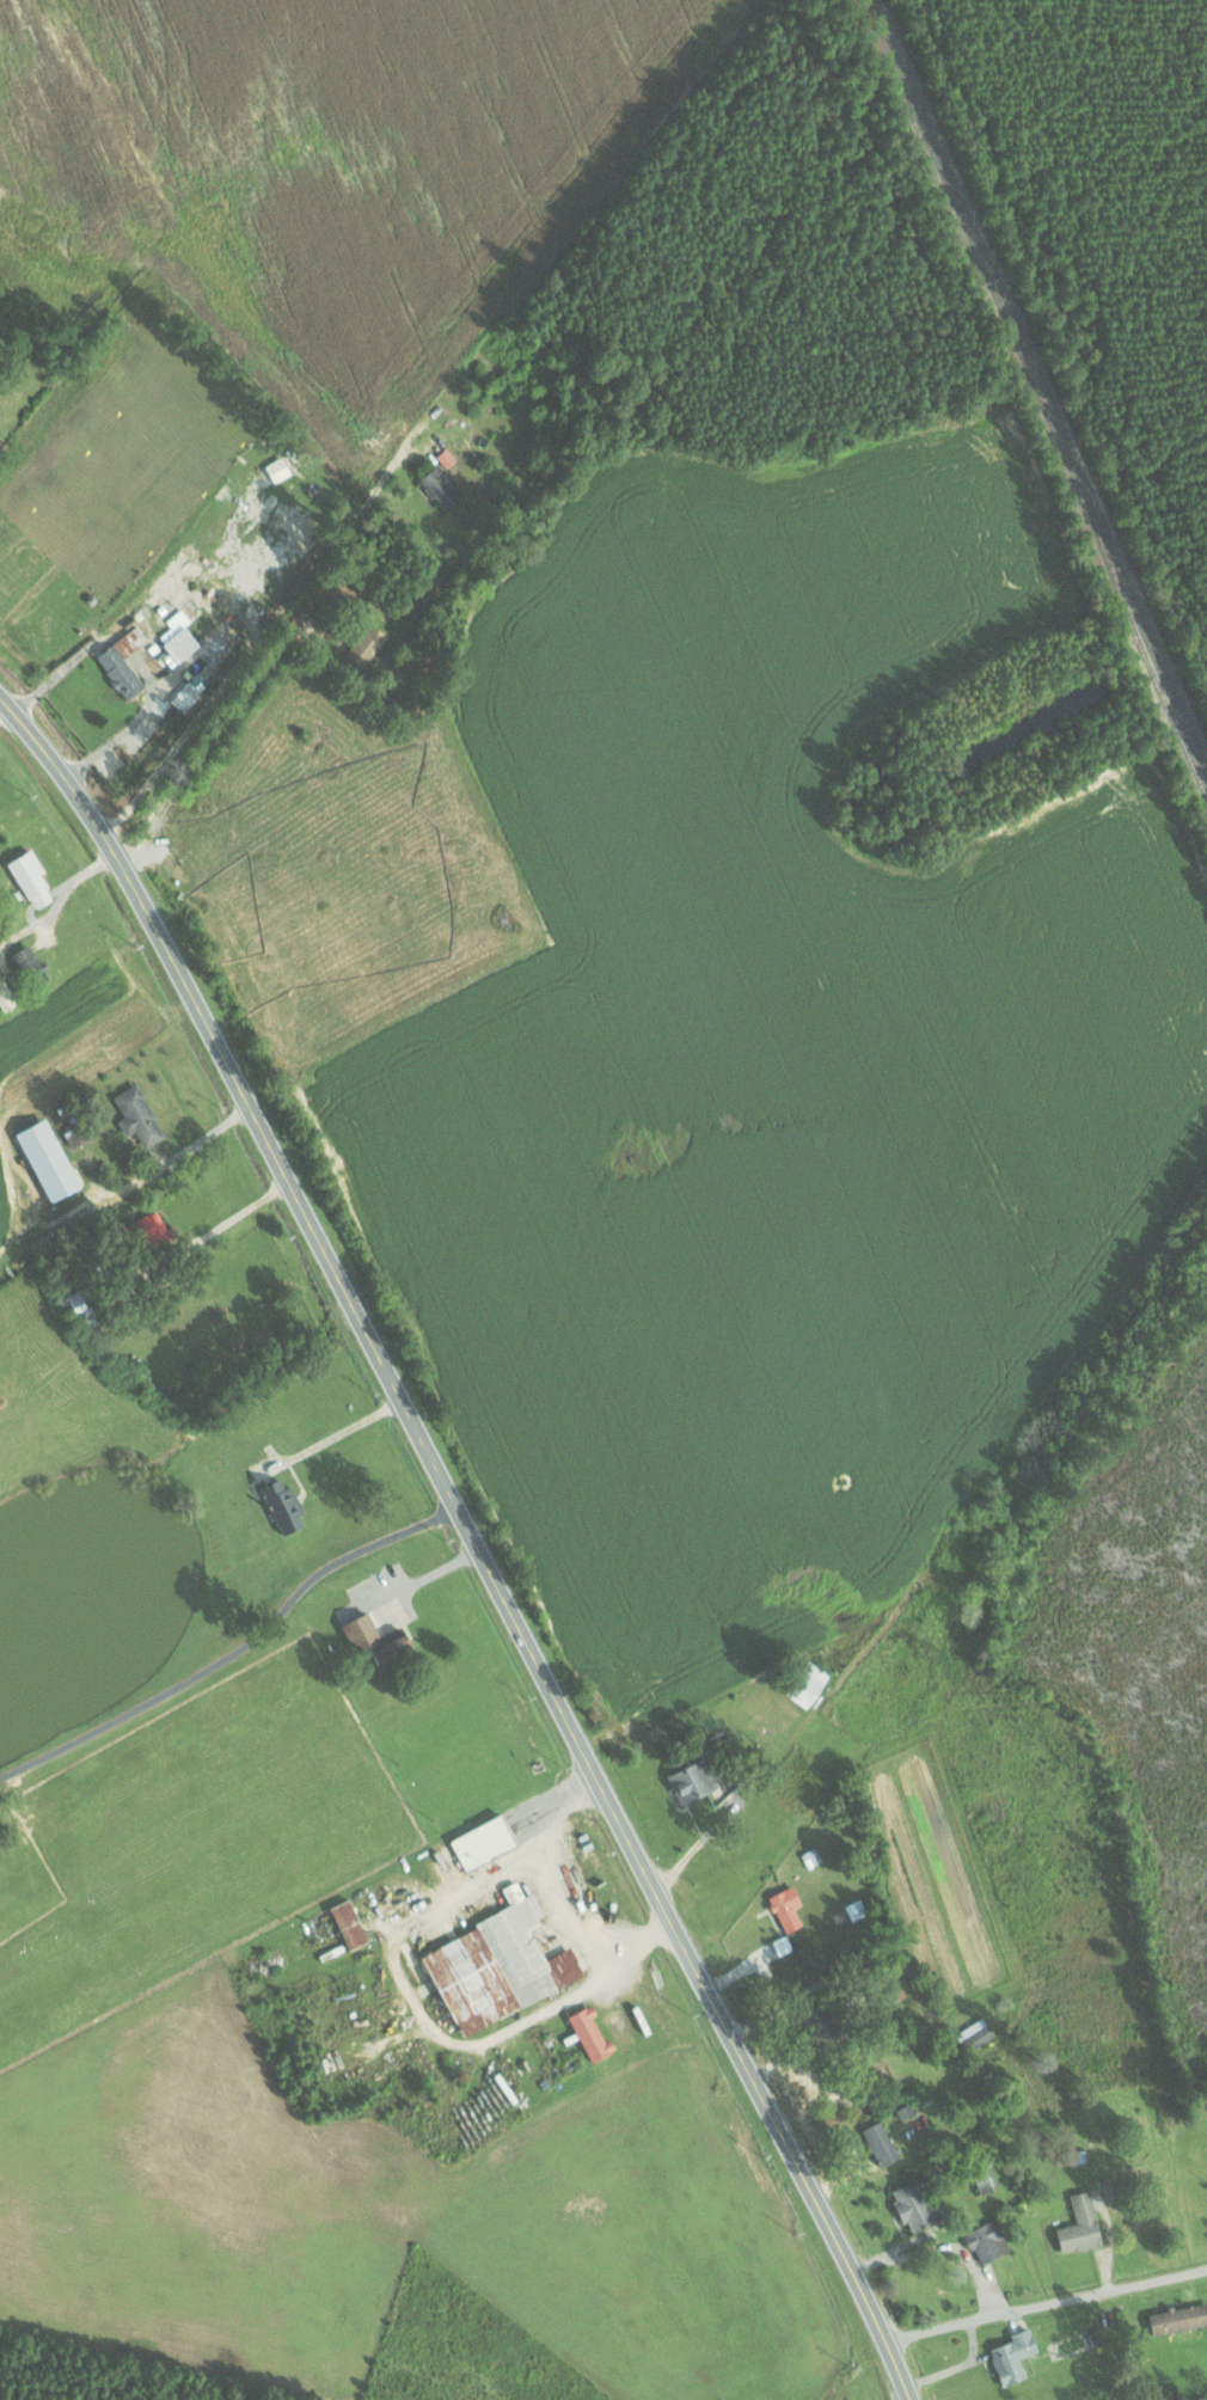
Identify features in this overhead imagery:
railway: (1040, 381)
building: (447, 457)
building: (278, 469)
building: (441, 486)
road: (253, 642)
building: (178, 645)
building: (125, 660)
road: (56, 671)
building: (203, 673)
road: (127, 729)
building: (32, 880)
building: (27, 960)
building: (7, 997)
building: (140, 1116)
building: (48, 1159)
building: (153, 1226)
building: (80, 1303)
building: (283, 1505)
road: (470, 1541)
building: (375, 1637)
road: (233, 1651)
building: (809, 1684)
building: (694, 1780)
building: (484, 1842)
building: (788, 1909)
building: (856, 1909)
building: (350, 1924)
building: (500, 1965)
building: (592, 2034)
building: (975, 2034)
building: (881, 2142)
building: (985, 2176)
building: (917, 2202)
building: (1082, 2223)
building: (988, 2240)
road: (1044, 2306)
building: (1178, 2318)
building: (1015, 2355)

